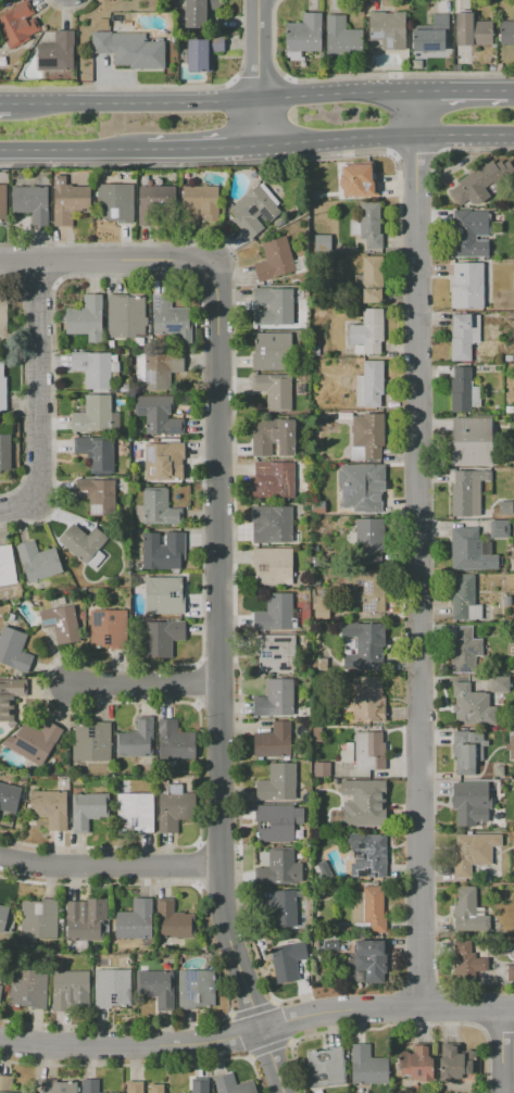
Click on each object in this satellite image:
building: (201, 13)
building: (17, 24)
building: (387, 29)
building: (472, 30)
building: (504, 33)
building: (430, 35)
building: (303, 36)
building: (342, 39)
building: (129, 49)
building: (55, 52)
building: (202, 52)
road: (258, 75)
road: (461, 90)
road: (511, 90)
road: (8, 104)
road: (215, 104)
road: (386, 140)
road: (201, 150)
road: (71, 151)
building: (358, 180)
building: (478, 183)
building: (315, 194)
building: (152, 200)
building: (68, 201)
building: (3, 202)
building: (114, 202)
building: (32, 203)
building: (199, 203)
building: (253, 212)
building: (365, 223)
building: (467, 234)
building: (322, 242)
building: (278, 261)
road: (108, 264)
building: (371, 278)
building: (466, 286)
building: (273, 307)
building: (3, 315)
building: (125, 316)
building: (85, 318)
building: (171, 318)
building: (367, 332)
building: (463, 335)
building: (139, 342)
building: (110, 343)
building: (315, 350)
building: (272, 352)
building: (95, 368)
building: (158, 369)
building: (371, 385)
building: (124, 388)
building: (463, 390)
building: (2, 391)
building: (275, 391)
road: (40, 404)
building: (158, 415)
building: (96, 416)
building: (273, 436)
building: (366, 436)
building: (472, 441)
building: (4, 452)
building: (96, 452)
building: (164, 461)
building: (277, 477)
building: (362, 487)
building: (467, 492)
building: (97, 495)
building: (317, 506)
building: (156, 508)
building: (505, 508)
building: (272, 525)
building: (500, 529)
building: (371, 540)
building: (83, 544)
building: (163, 550)
road: (418, 550)
building: (471, 551)
building: (38, 562)
building: (314, 562)
building: (7, 565)
building: (513, 565)
building: (273, 566)
building: (364, 591)
building: (324, 594)
building: (163, 595)
building: (464, 599)
building: (506, 601)
building: (274, 613)
building: (62, 624)
building: (108, 629)
building: (163, 638)
building: (362, 645)
building: (13, 649)
building: (464, 650)
building: (276, 653)
road: (220, 683)
building: (500, 683)
road: (148, 690)
building: (10, 696)
building: (276, 699)
building: (367, 699)
building: (472, 705)
building: (316, 733)
building: (37, 739)
building: (136, 739)
building: (174, 740)
building: (91, 741)
building: (272, 741)
building: (512, 746)
building: (468, 750)
building: (369, 751)
building: (346, 753)
building: (322, 768)
building: (511, 769)
building: (277, 784)
building: (9, 797)
building: (363, 803)
building: (467, 803)
building: (49, 807)
building: (175, 808)
building: (87, 809)
building: (134, 812)
building: (276, 822)
building: (497, 827)
building: (472, 852)
building: (367, 855)
building: (279, 868)
road: (111, 869)
building: (488, 879)
building: (284, 909)
building: (468, 909)
building: (368, 910)
building: (3, 916)
building: (38, 918)
building: (84, 919)
building: (135, 920)
building: (174, 921)
building: (330, 946)
building: (371, 959)
building: (287, 960)
building: (467, 962)
building: (511, 973)
building: (1, 975)
building: (68, 988)
building: (112, 988)
building: (156, 988)
building: (28, 989)
building: (196, 989)
road: (256, 1030)
road: (500, 1051)
building: (416, 1064)
building: (452, 1064)
building: (367, 1066)
building: (324, 1067)
building: (5, 1083)
building: (231, 1084)
building: (89, 1085)
building: (200, 1085)
building: (59, 1086)
building: (134, 1086)
building: (156, 1089)
building: (112, 1092)

